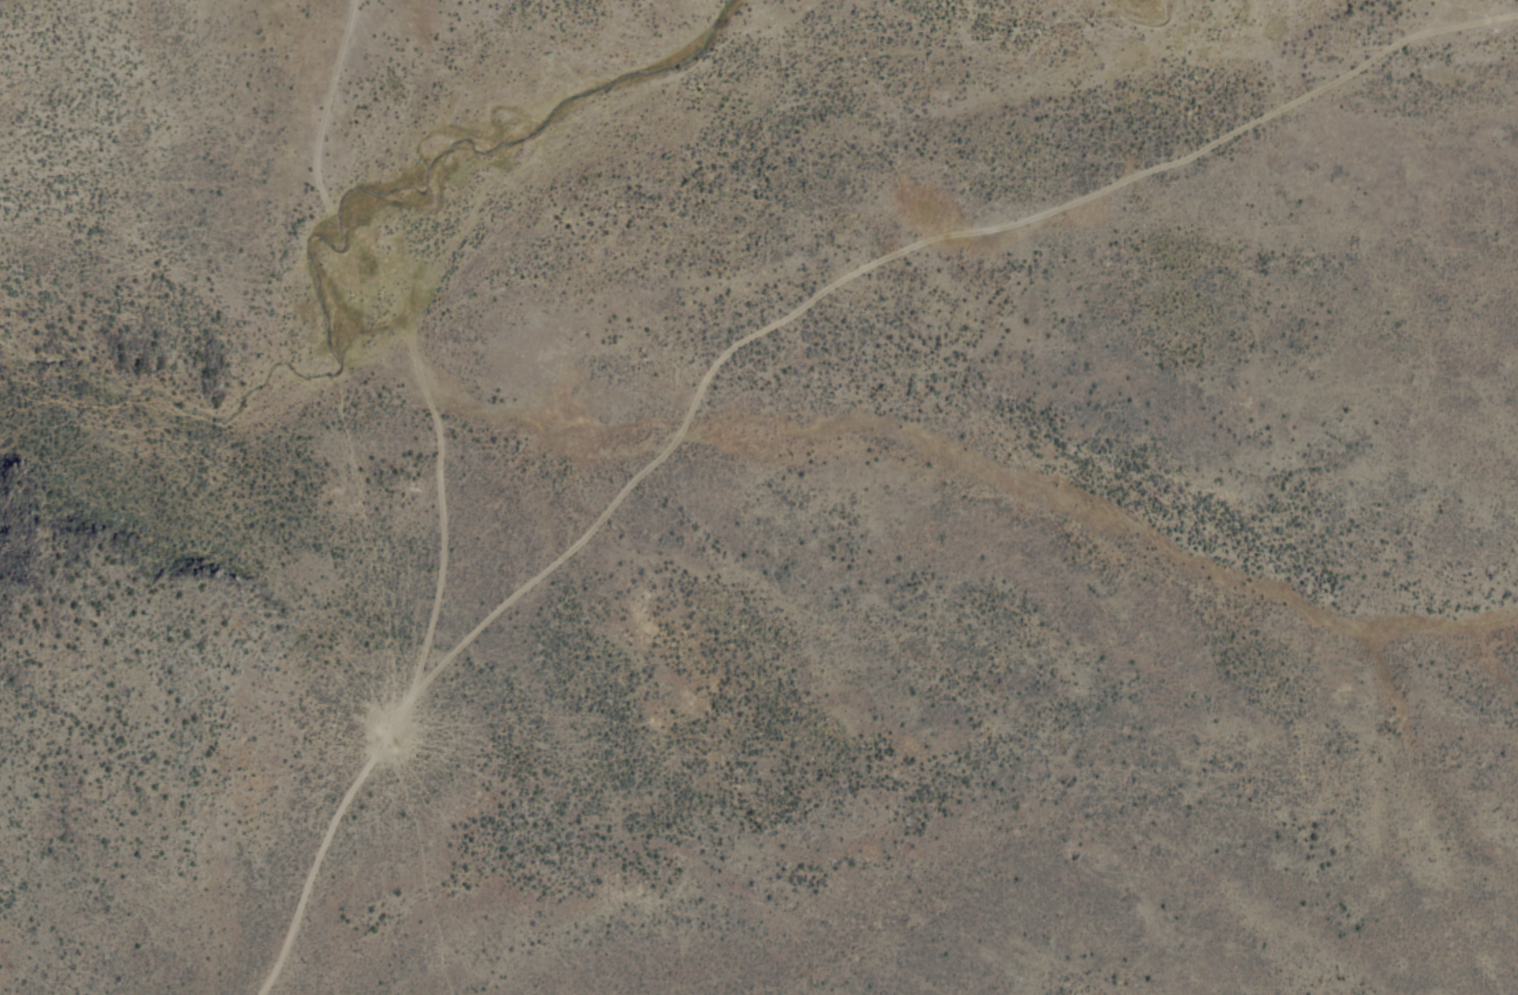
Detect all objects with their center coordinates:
road: (746, 323)

